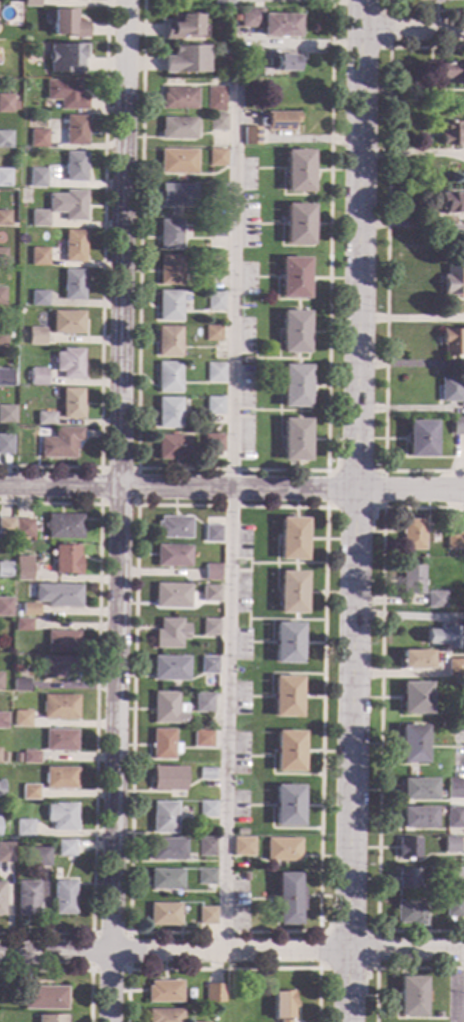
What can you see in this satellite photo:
building: (54, 0)
building: (73, 0)
building: (433, 1)
building: (221, 2)
building: (29, 3)
road: (420, 11)
building: (67, 23)
building: (269, 23)
building: (180, 25)
road: (390, 30)
road: (412, 30)
building: (65, 58)
building: (242, 59)
building: (185, 60)
building: (283, 63)
building: (453, 73)
building: (65, 94)
building: (177, 98)
building: (215, 99)
building: (5, 104)
building: (279, 121)
building: (216, 122)
building: (176, 129)
building: (75, 131)
building: (452, 134)
building: (250, 136)
building: (38, 138)
building: (4, 140)
building: (216, 158)
building: (176, 161)
building: (74, 167)
building: (297, 171)
building: (3, 177)
building: (37, 178)
building: (216, 192)
building: (176, 195)
building: (451, 203)
building: (68, 205)
building: (4, 218)
building: (39, 218)
building: (297, 224)
building: (215, 228)
building: (169, 235)
building: (73, 246)
building: (2, 257)
building: (39, 257)
road: (385, 263)
building: (215, 264)
building: (169, 269)
building: (293, 278)
building: (453, 281)
building: (73, 284)
road: (101, 284)
building: (2, 297)
building: (39, 299)
building: (214, 301)
building: (169, 306)
building: (67, 323)
building: (293, 332)
building: (212, 333)
building: (36, 336)
building: (2, 337)
building: (168, 341)
building: (451, 341)
building: (69, 363)
building: (213, 372)
building: (38, 377)
building: (168, 377)
building: (4, 378)
building: (294, 386)
building: (449, 389)
building: (71, 403)
building: (212, 406)
building: (168, 412)
building: (6, 414)
building: (45, 419)
building: (457, 426)
building: (420, 439)
building: (293, 440)
building: (60, 443)
building: (211, 443)
building: (5, 445)
building: (171, 447)
road: (231, 469)
road: (329, 471)
road: (231, 489)
road: (134, 506)
road: (134, 508)
road: (423, 508)
road: (379, 509)
road: (351, 510)
road: (118, 511)
road: (231, 515)
road: (371, 525)
building: (6, 526)
building: (63, 526)
building: (171, 527)
building: (23, 528)
building: (210, 533)
building: (412, 534)
building: (290, 538)
building: (454, 540)
building: (171, 556)
building: (66, 560)
building: (22, 568)
building: (4, 569)
building: (210, 573)
building: (412, 580)
building: (290, 592)
building: (208, 594)
building: (56, 595)
building: (170, 595)
building: (436, 600)
building: (4, 606)
building: (28, 610)
building: (21, 625)
building: (209, 627)
building: (170, 634)
building: (443, 636)
building: (61, 641)
building: (286, 643)
building: (216, 651)
building: (415, 659)
building: (207, 665)
building: (57, 667)
building: (455, 667)
building: (169, 668)
building: (20, 684)
building: (286, 696)
building: (414, 698)
building: (202, 703)
building: (58, 707)
building: (166, 709)
road: (95, 715)
building: (21, 719)
building: (3, 721)
building: (446, 725)
building: (202, 739)
building: (60, 740)
building: (163, 744)
building: (412, 744)
building: (19, 746)
building: (288, 751)
building: (30, 757)
building: (3, 758)
road: (379, 763)
building: (206, 773)
building: (60, 778)
building: (168, 778)
building: (454, 788)
building: (417, 789)
building: (1, 792)
building: (29, 792)
building: (288, 805)
building: (207, 808)
building: (61, 816)
building: (163, 817)
building: (455, 817)
building: (417, 818)
building: (23, 828)
building: (451, 844)
building: (206, 847)
building: (243, 847)
building: (408, 847)
building: (65, 848)
building: (282, 848)
building: (167, 849)
building: (5, 852)
building: (36, 857)
building: (206, 877)
building: (454, 878)
building: (165, 879)
building: (408, 879)
building: (1, 898)
building: (27, 898)
building: (64, 898)
building: (287, 899)
building: (454, 908)
building: (410, 912)
building: (163, 914)
building: (205, 915)
road: (376, 932)
road: (231, 952)
road: (392, 968)
road: (222, 969)
road: (70, 970)
road: (89, 970)
road: (462, 986)
building: (163, 992)
building: (212, 992)
building: (411, 996)
building: (43, 998)
building: (282, 1005)
building: (192, 1011)
building: (164, 1015)
building: (439, 1016)
building: (50, 1018)
building: (200, 1021)

